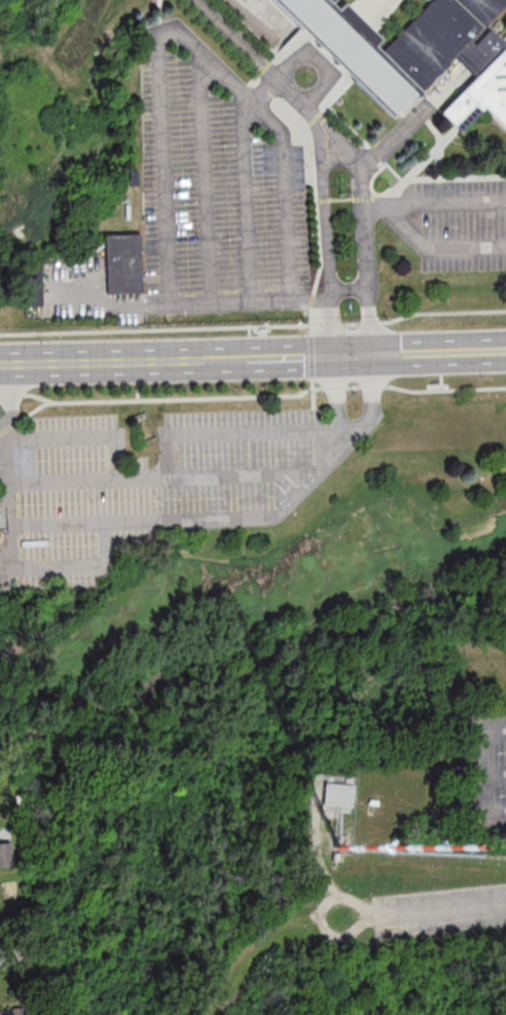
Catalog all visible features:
road: (374, 8)
road: (158, 12)
road: (268, 16)
road: (331, 21)
road: (250, 28)
road: (341, 41)
road: (291, 47)
building: (352, 50)
road: (361, 50)
building: (455, 52)
road: (304, 58)
road: (256, 61)
road: (261, 75)
road: (224, 77)
road: (266, 88)
road: (337, 93)
road: (318, 116)
road: (412, 119)
road: (437, 135)
road: (366, 143)
road: (415, 169)
road: (164, 170)
road: (205, 178)
building: (133, 179)
road: (455, 179)
parking lot: (217, 187)
road: (316, 187)
road: (247, 199)
road: (347, 200)
road: (447, 205)
road: (375, 208)
road: (289, 218)
parking lot: (462, 225)
road: (363, 230)
road: (326, 238)
road: (437, 249)
building: (124, 265)
building: (31, 289)
road: (348, 289)
road: (312, 299)
road: (190, 304)
road: (443, 314)
road: (311, 319)
road: (352, 322)
road: (371, 322)
road: (332, 323)
road: (160, 328)
road: (438, 352)
road: (352, 355)
traffic signals: (372, 355)
road: (289, 356)
road: (312, 356)
traffic signals: (332, 356)
road: (226, 358)
road: (101, 361)
road: (312, 384)
road: (372, 385)
road: (335, 386)
road: (354, 386)
road: (445, 389)
road: (137, 390)
road: (12, 394)
road: (174, 397)
road: (35, 409)
road: (335, 415)
road: (368, 423)
road: (10, 425)
road: (244, 433)
road: (84, 438)
road: (4, 464)
road: (9, 466)
road: (165, 479)
parking lot: (151, 487)
road: (297, 494)
road: (0, 499)
road: (143, 523)
road: (6, 553)
road: (77, 565)
road: (486, 772)
building: (338, 793)
building: (6, 848)
road: (438, 909)
road: (319, 918)
road: (11, 958)
building: (15, 1014)

